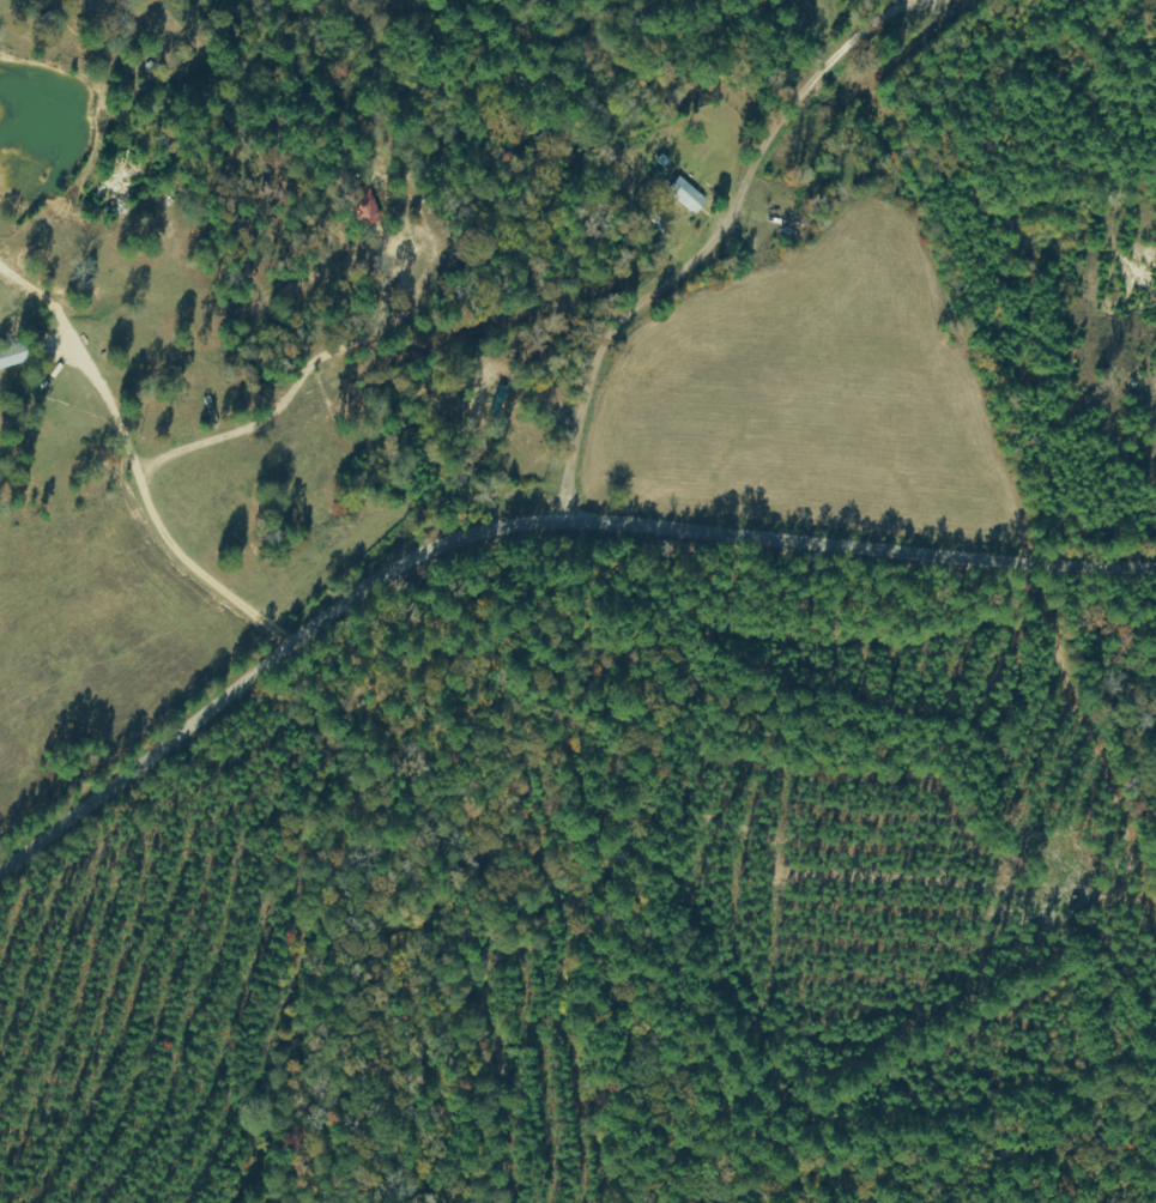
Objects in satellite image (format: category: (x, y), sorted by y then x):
road: (674, 186)
building: (685, 199)
road: (529, 531)

